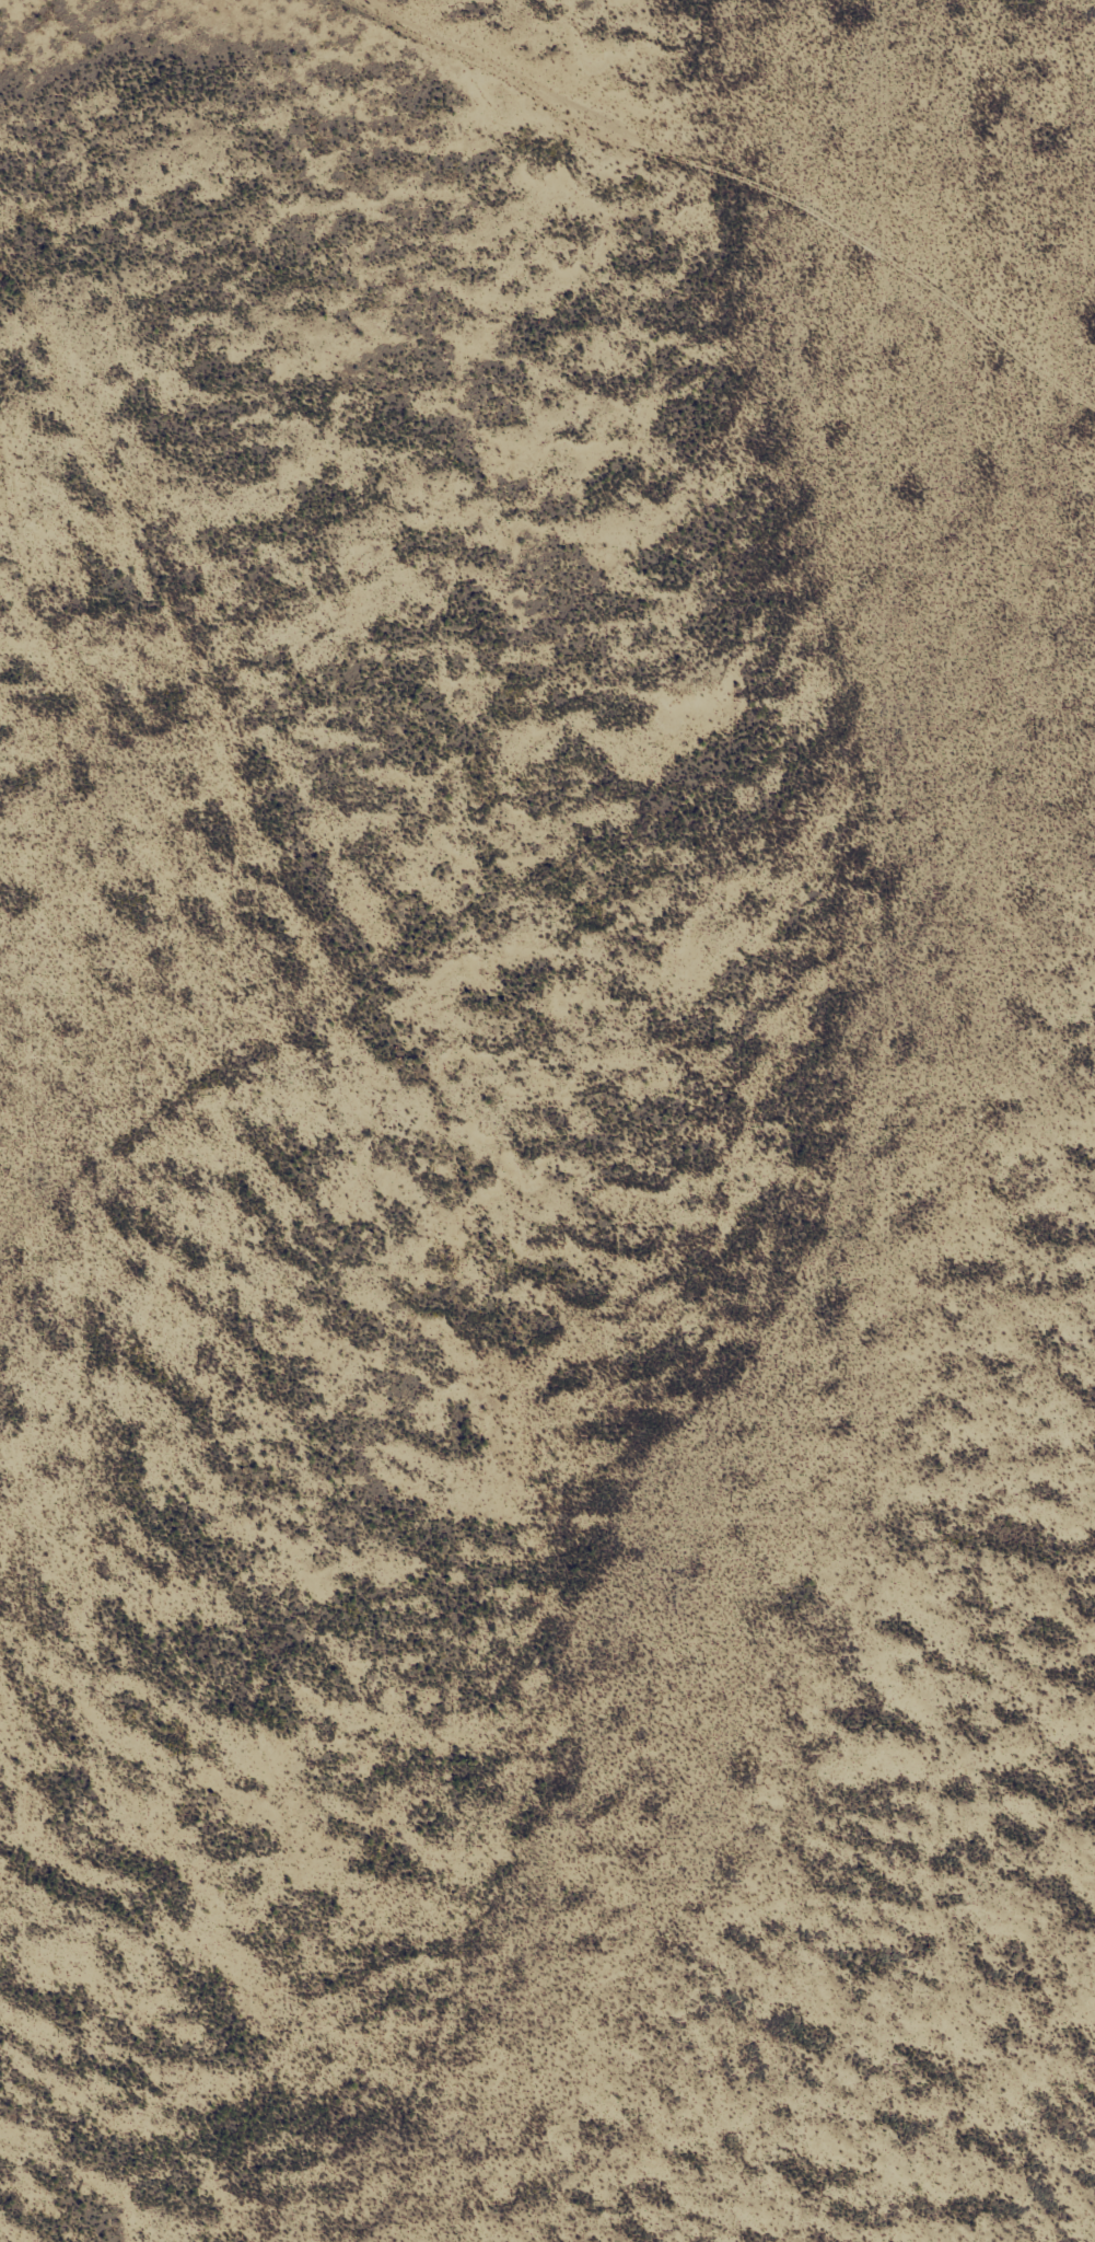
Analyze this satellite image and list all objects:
road: (788, 172)

